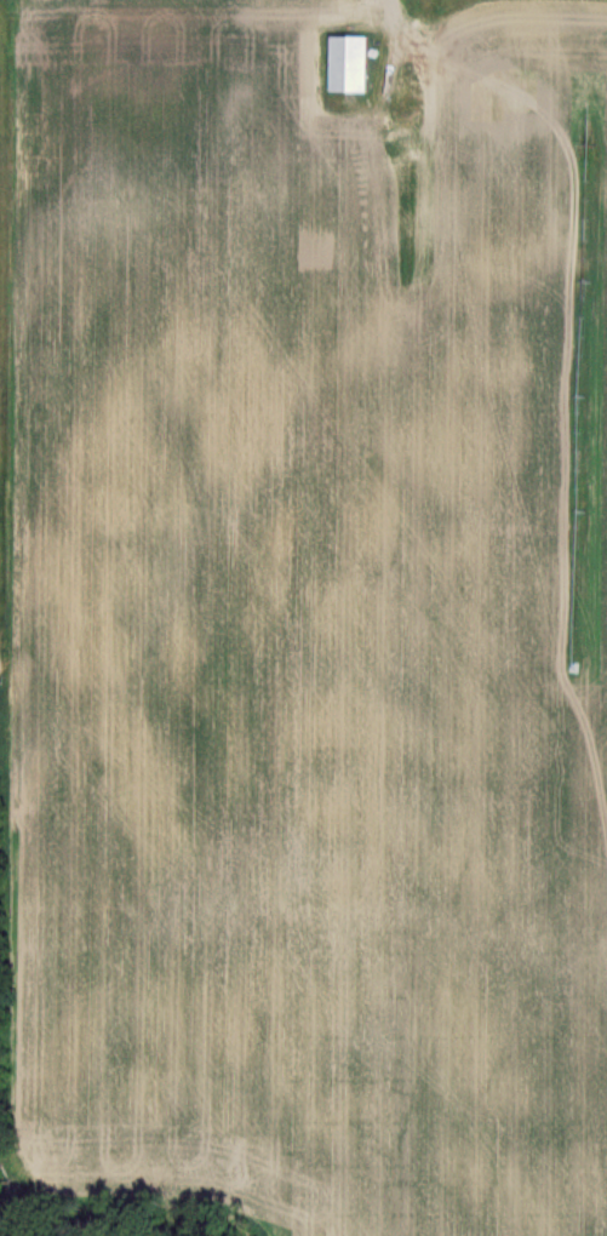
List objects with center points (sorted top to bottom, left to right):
building: (357, 63)

